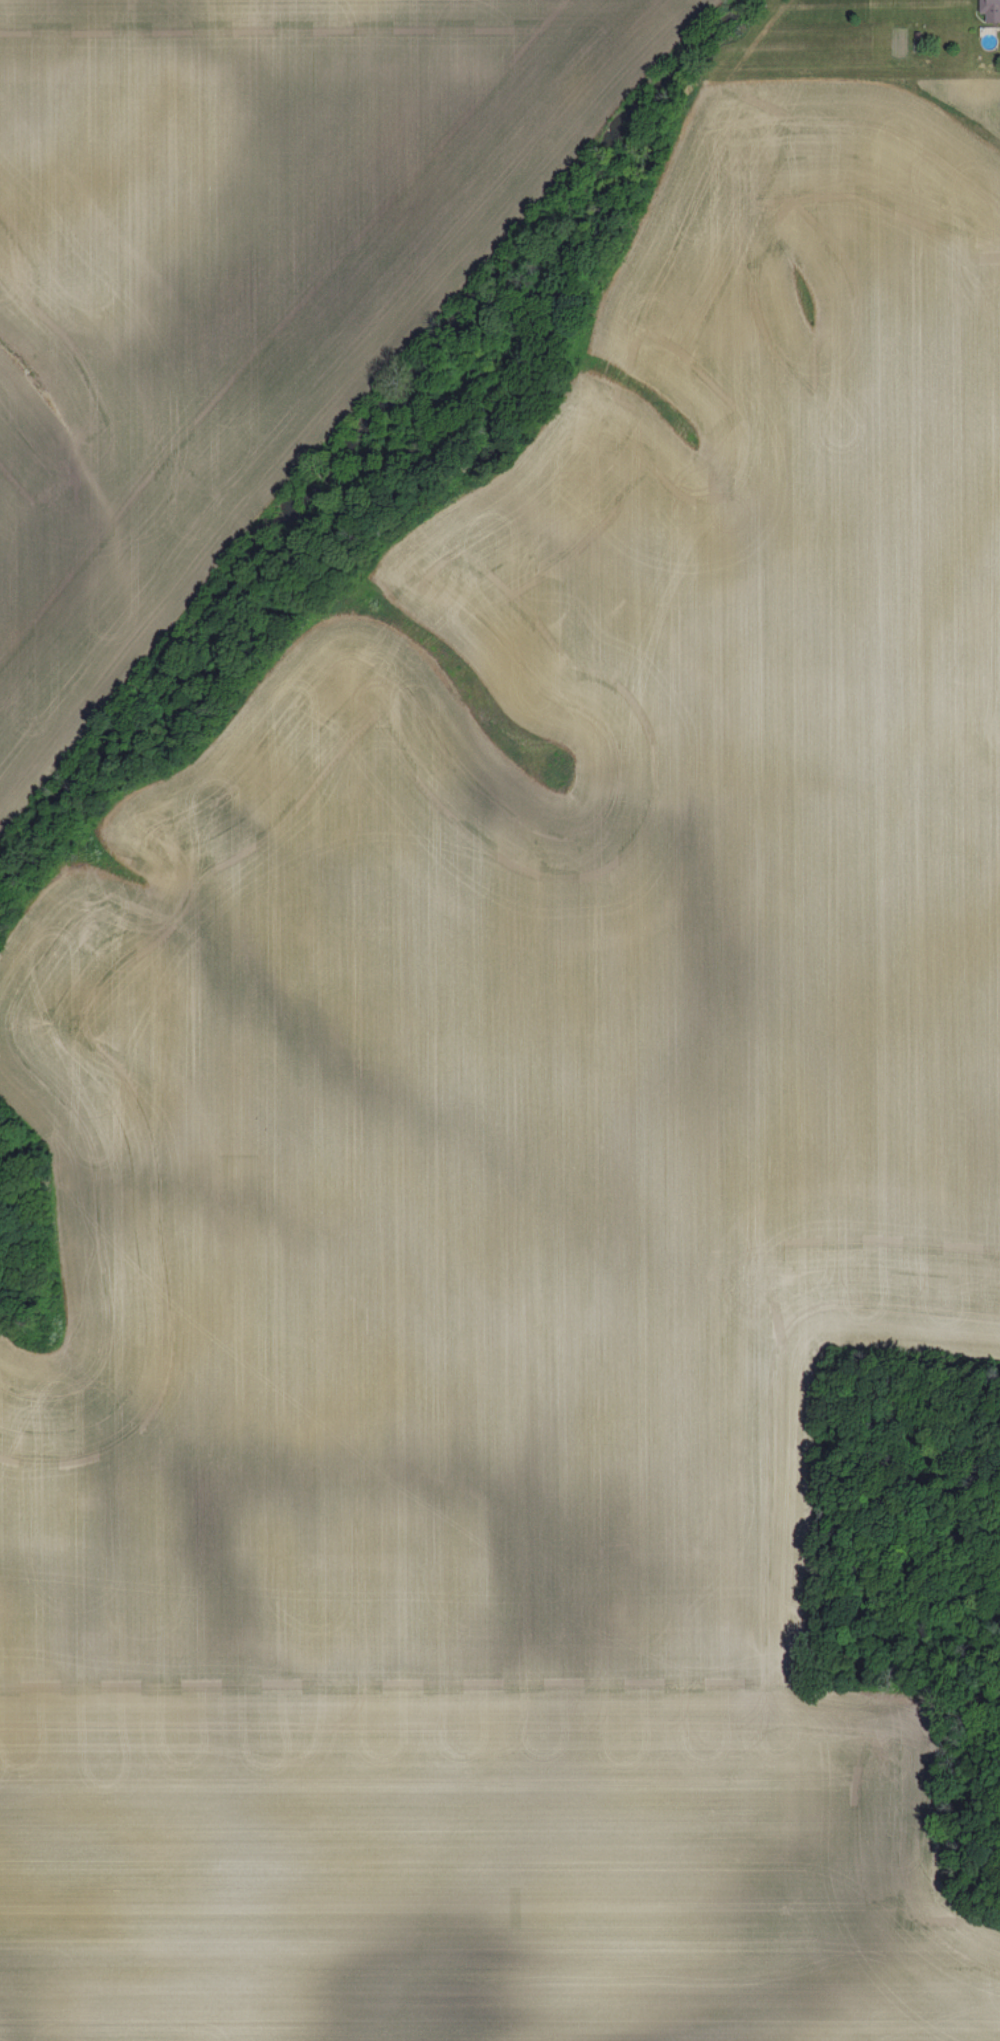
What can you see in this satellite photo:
building: (990, 10)

